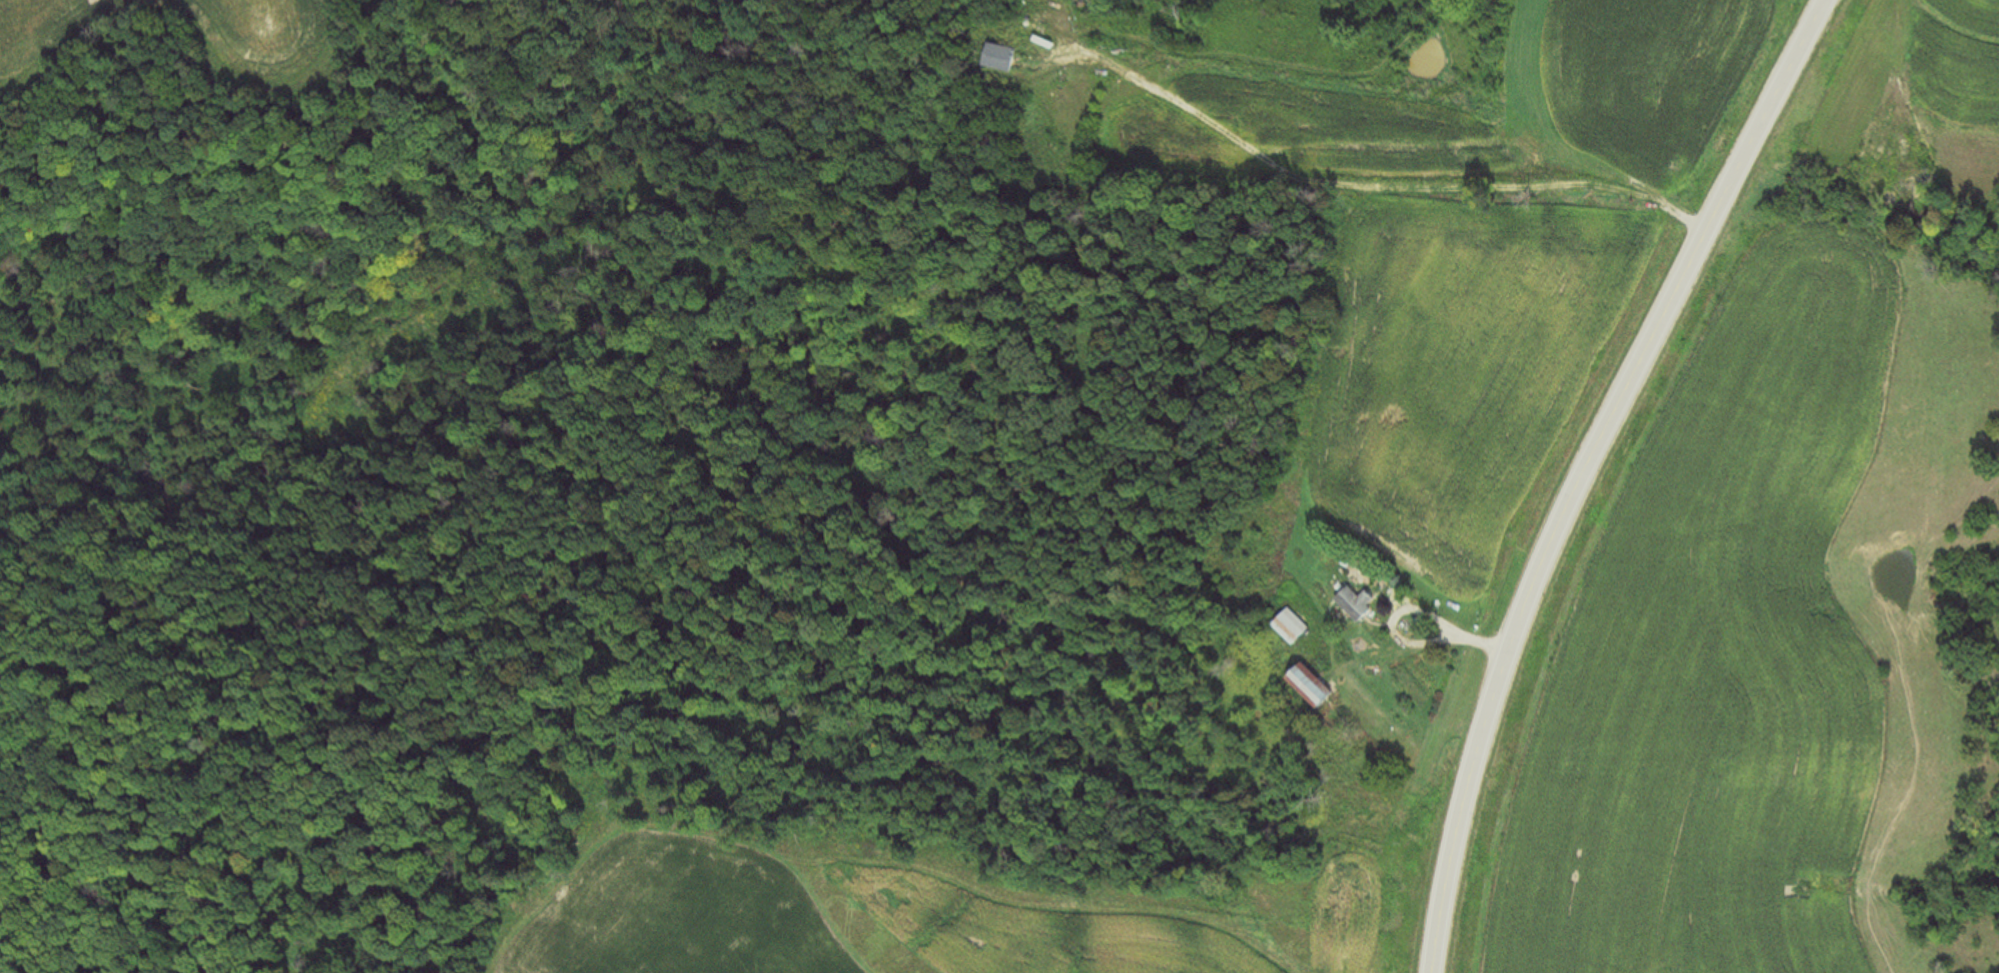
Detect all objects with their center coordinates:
building: (997, 58)
road: (1384, 186)
road: (1586, 470)
building: (1352, 604)
building: (1289, 628)
building: (1308, 686)

